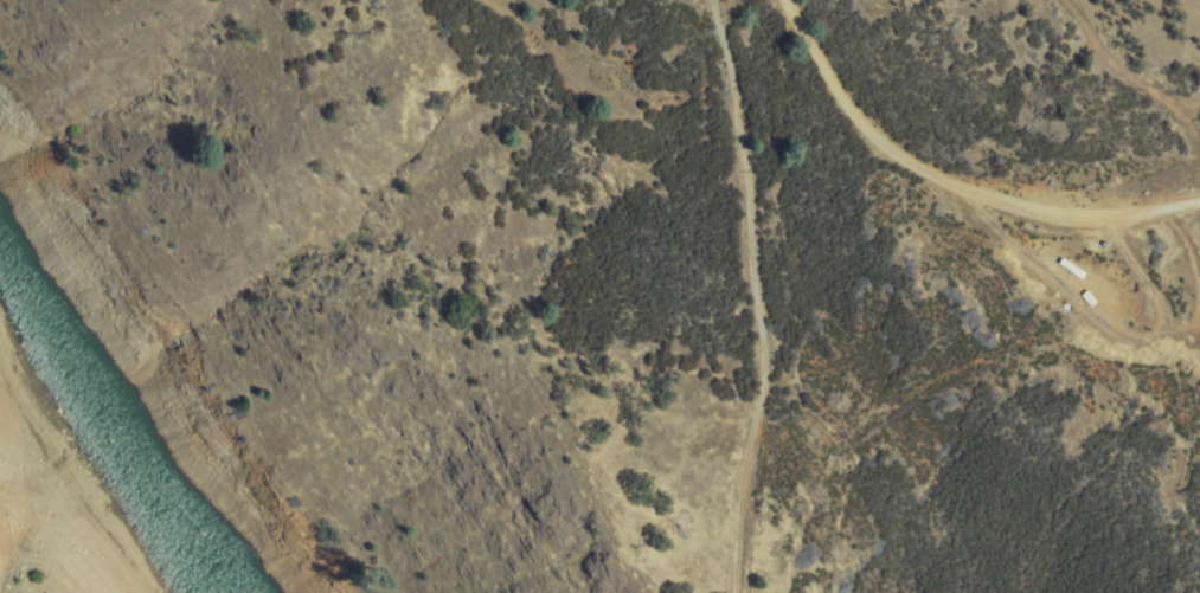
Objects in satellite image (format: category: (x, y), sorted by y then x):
road: (958, 178)
road: (762, 296)

